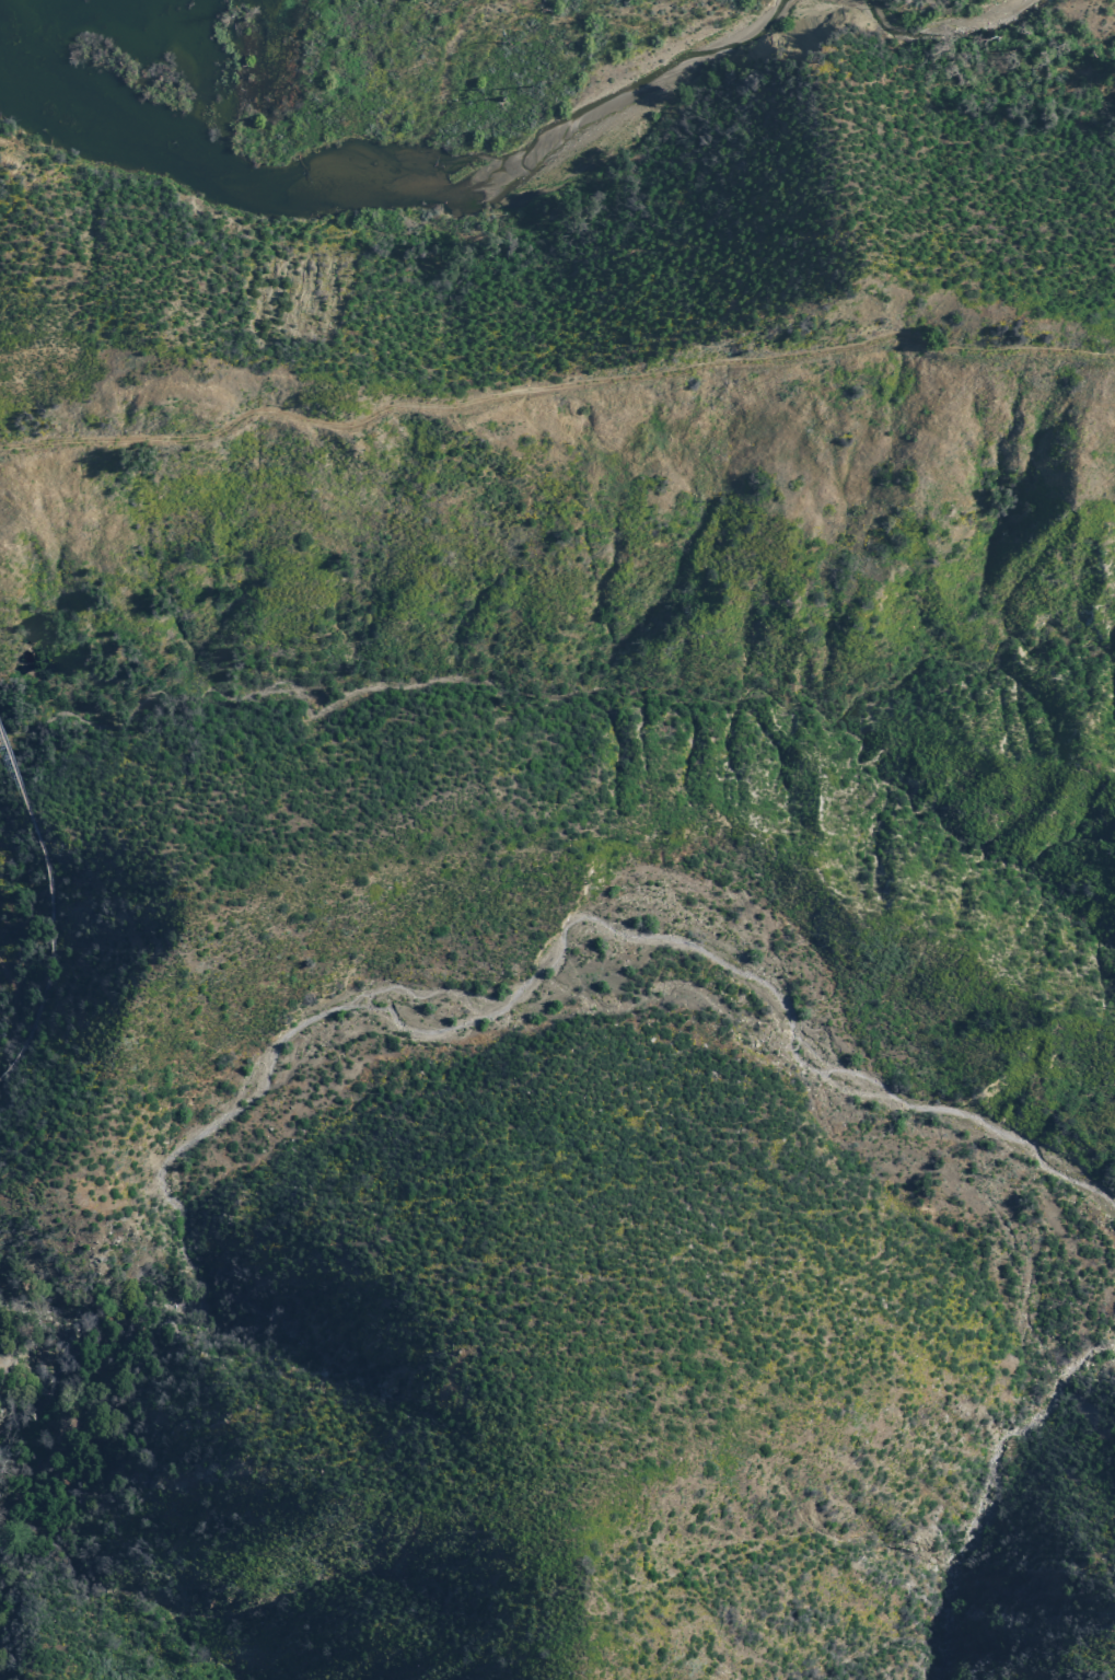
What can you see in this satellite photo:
river: (945, 30)
river: (136, 104)
road: (11, 140)
river: (545, 144)
road: (553, 383)
road: (58, 1371)

